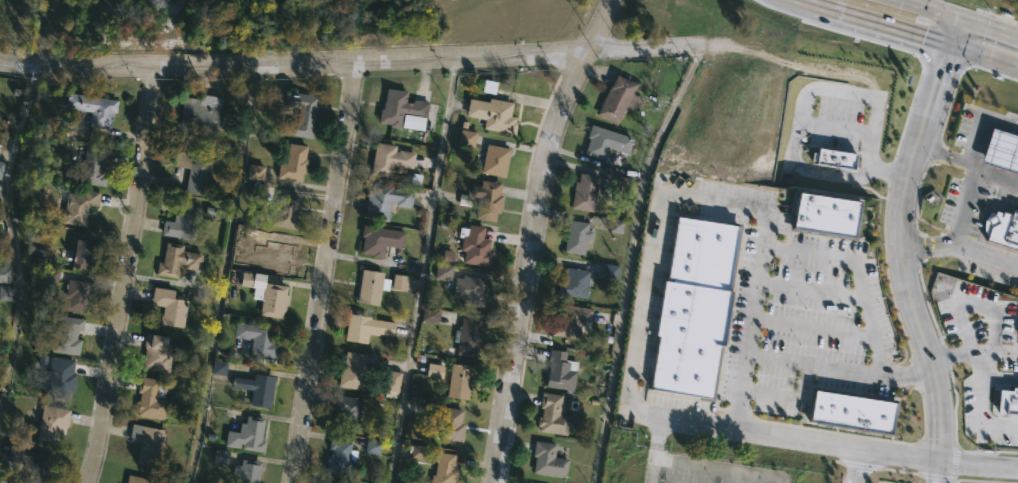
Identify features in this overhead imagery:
road: (938, 7)
traffic signals: (964, 16)
road: (876, 21)
road: (991, 24)
road: (600, 25)
road: (957, 30)
traffic signals: (951, 44)
road: (653, 46)
road: (984, 54)
road: (294, 64)
road: (790, 67)
building: (619, 100)
building: (91, 109)
building: (403, 111)
building: (299, 115)
building: (492, 115)
building: (199, 117)
road: (799, 119)
road: (983, 125)
road: (835, 131)
building: (466, 139)
building: (605, 143)
road: (773, 143)
gas station: (1000, 148)
road: (708, 152)
road: (944, 156)
building: (832, 159)
building: (388, 160)
building: (494, 161)
building: (291, 164)
building: (92, 166)
building: (1, 168)
building: (193, 168)
building: (254, 172)
road: (995, 173)
building: (584, 191)
road: (717, 195)
building: (482, 200)
building: (383, 202)
building: (79, 206)
road: (958, 207)
building: (285, 212)
building: (823, 212)
building: (180, 223)
road: (4, 226)
gas station: (1001, 227)
building: (577, 237)
building: (378, 241)
building: (475, 245)
building: (82, 250)
road: (902, 251)
road: (960, 252)
building: (276, 259)
building: (177, 260)
road: (519, 261)
road: (421, 270)
building: (442, 272)
road: (323, 273)
road: (222, 274)
road: (856, 274)
building: (4, 275)
road: (126, 275)
building: (575, 284)
building: (376, 285)
road: (809, 290)
building: (467, 292)
building: (6, 293)
building: (77, 294)
building: (271, 298)
building: (691, 305)
building: (169, 307)
building: (430, 315)
building: (571, 322)
road: (811, 327)
building: (364, 328)
building: (67, 335)
building: (1017, 336)
building: (467, 337)
building: (258, 339)
building: (153, 351)
road: (974, 351)
road: (980, 365)
building: (218, 368)
road: (839, 369)
building: (434, 371)
building: (561, 371)
building: (351, 372)
building: (58, 378)
road: (1000, 378)
building: (460, 381)
building: (391, 384)
building: (255, 390)
road: (784, 397)
building: (151, 398)
building: (1007, 399)
building: (851, 409)
building: (345, 414)
building: (552, 416)
road: (979, 418)
building: (52, 423)
building: (446, 423)
building: (245, 435)
road: (783, 437)
building: (145, 445)
building: (372, 447)
road: (651, 449)
building: (417, 453)
building: (340, 456)
building: (546, 461)
road: (979, 464)
building: (31, 465)
road: (852, 466)
road: (717, 467)
building: (443, 469)
building: (247, 471)
road: (938, 471)
building: (137, 479)
building: (325, 482)

